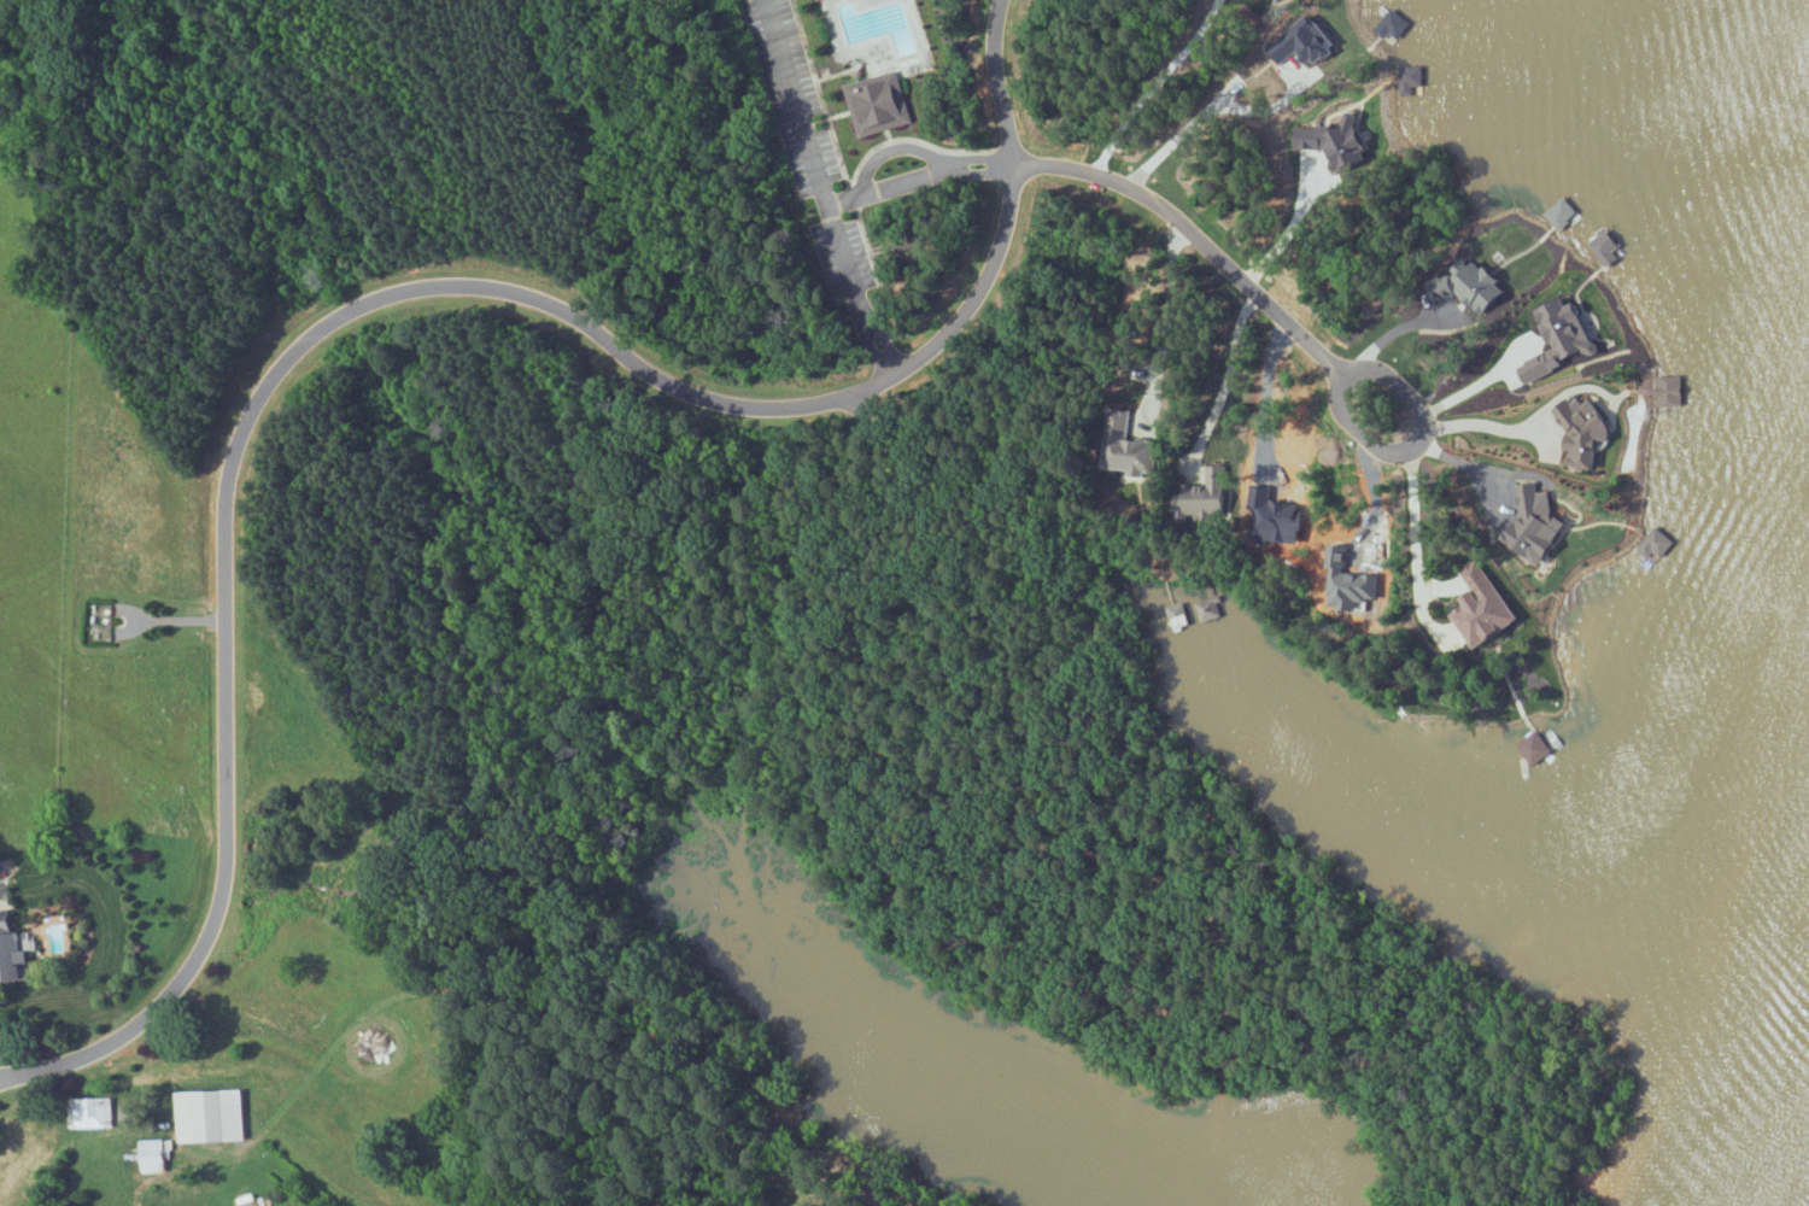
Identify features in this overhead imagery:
building: (878, 103)
road: (1205, 112)
building: (1470, 287)
road: (381, 300)
road: (1292, 327)
building: (1585, 433)
building: (1128, 452)
building: (1204, 494)
building: (1535, 523)
building: (1655, 543)
building: (1483, 608)
building: (1210, 609)
building: (1535, 748)
building: (11, 950)
building: (89, 1111)
building: (209, 1114)
building: (152, 1154)

